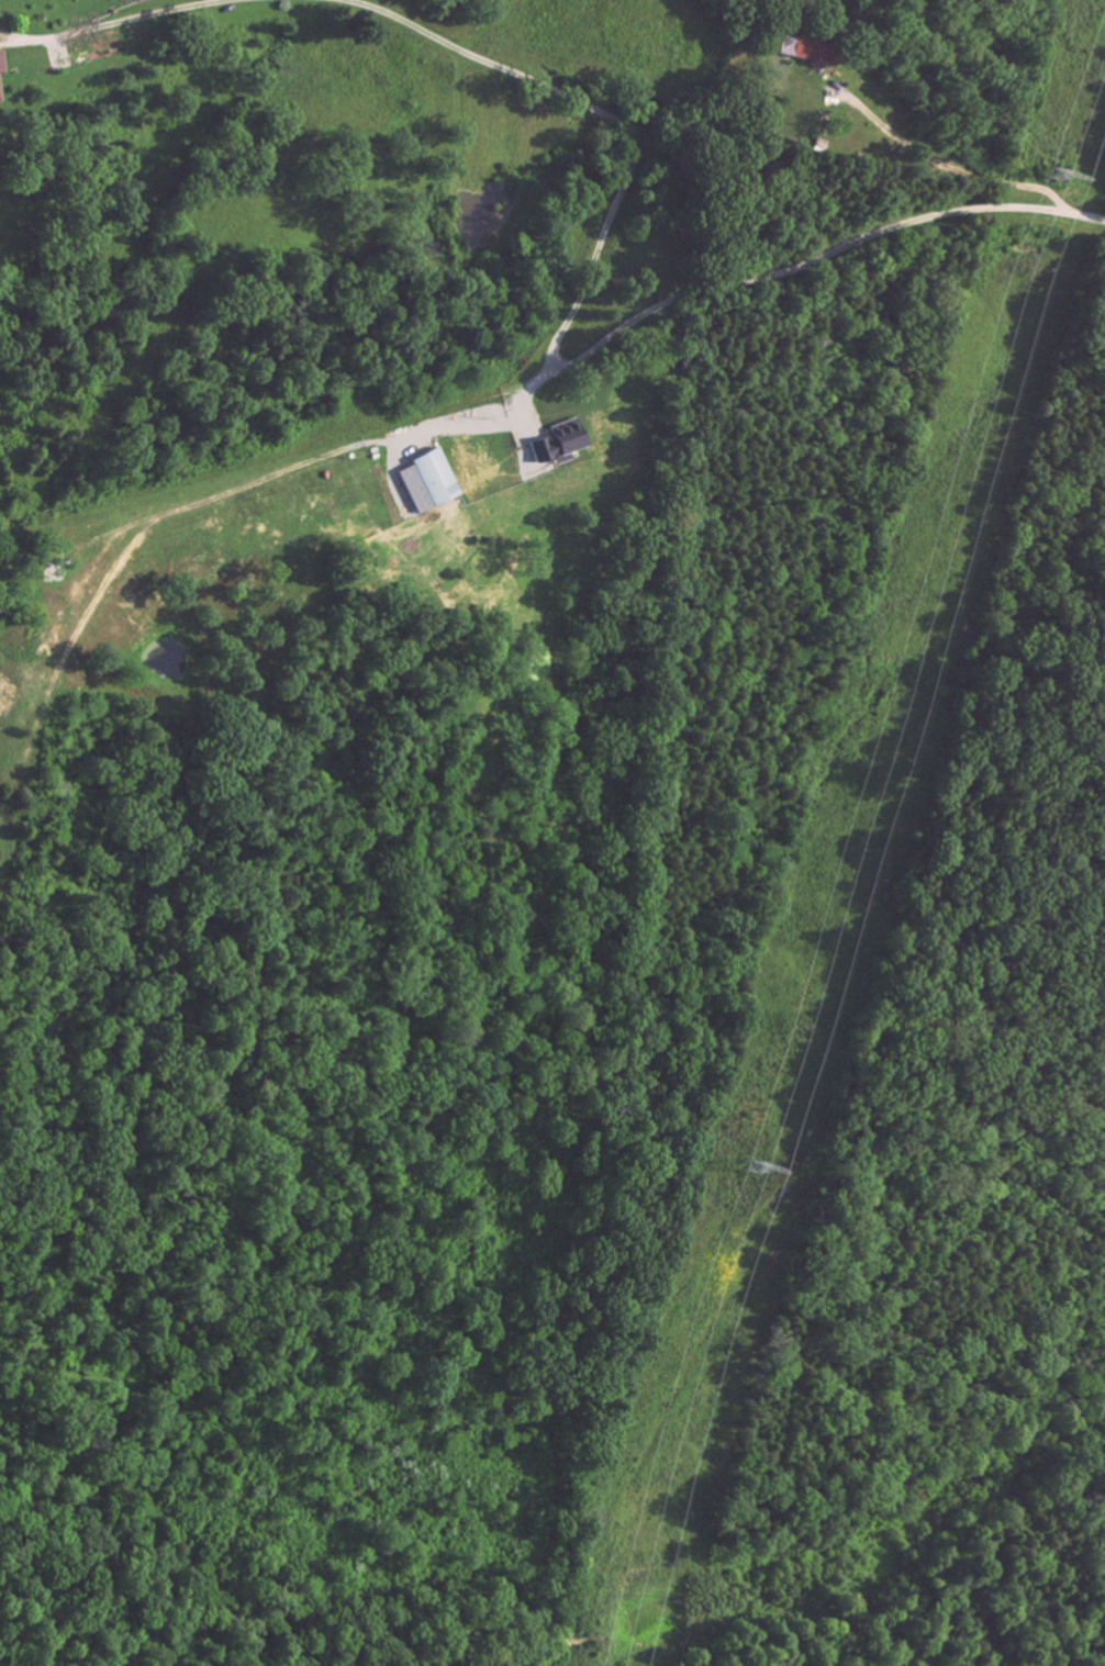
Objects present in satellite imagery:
road: (125, 20)
building: (860, 30)
building: (35, 53)
road: (613, 119)
road: (948, 169)
power tower: (1059, 175)
road: (773, 275)
building: (607, 421)
building: (481, 456)
power tower: (763, 1167)

